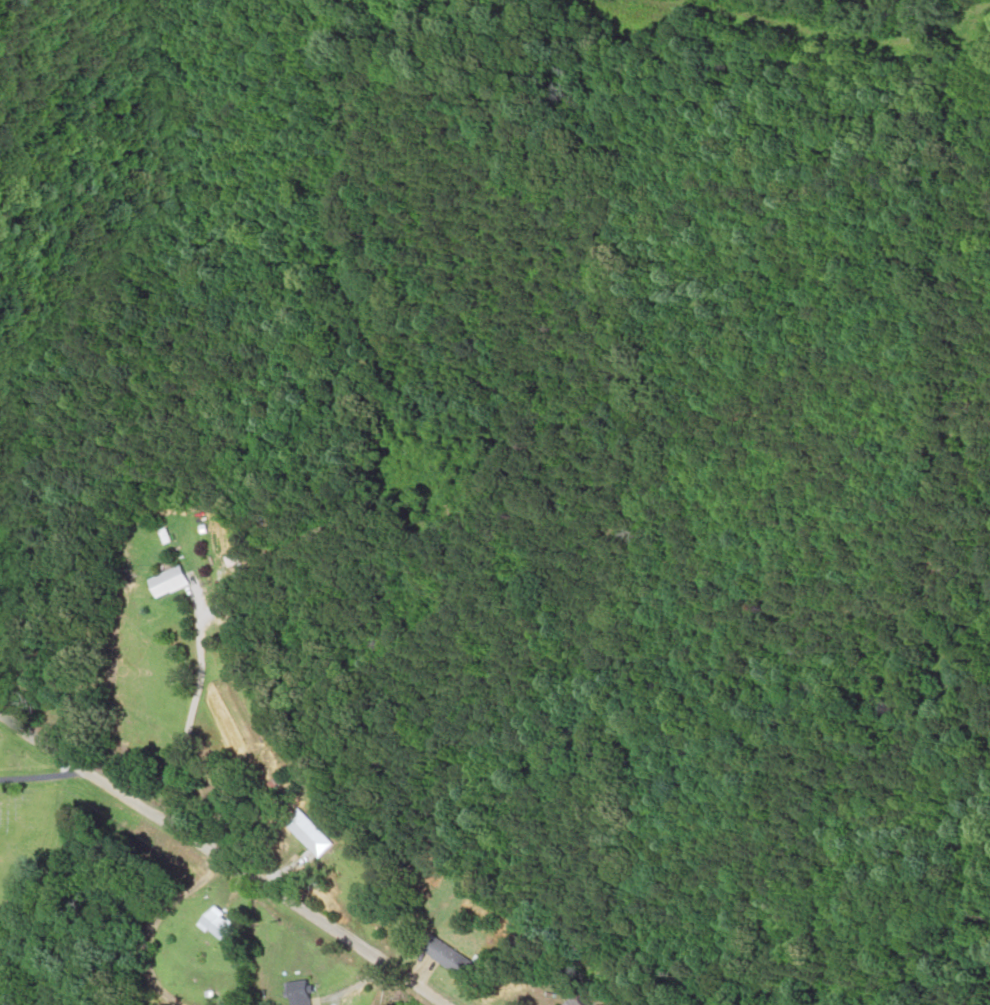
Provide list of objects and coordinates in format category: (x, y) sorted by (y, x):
building: (181, 581)
road: (210, 620)
building: (316, 833)
road: (233, 854)
building: (224, 923)
building: (458, 958)
building: (306, 992)
building: (584, 1002)

